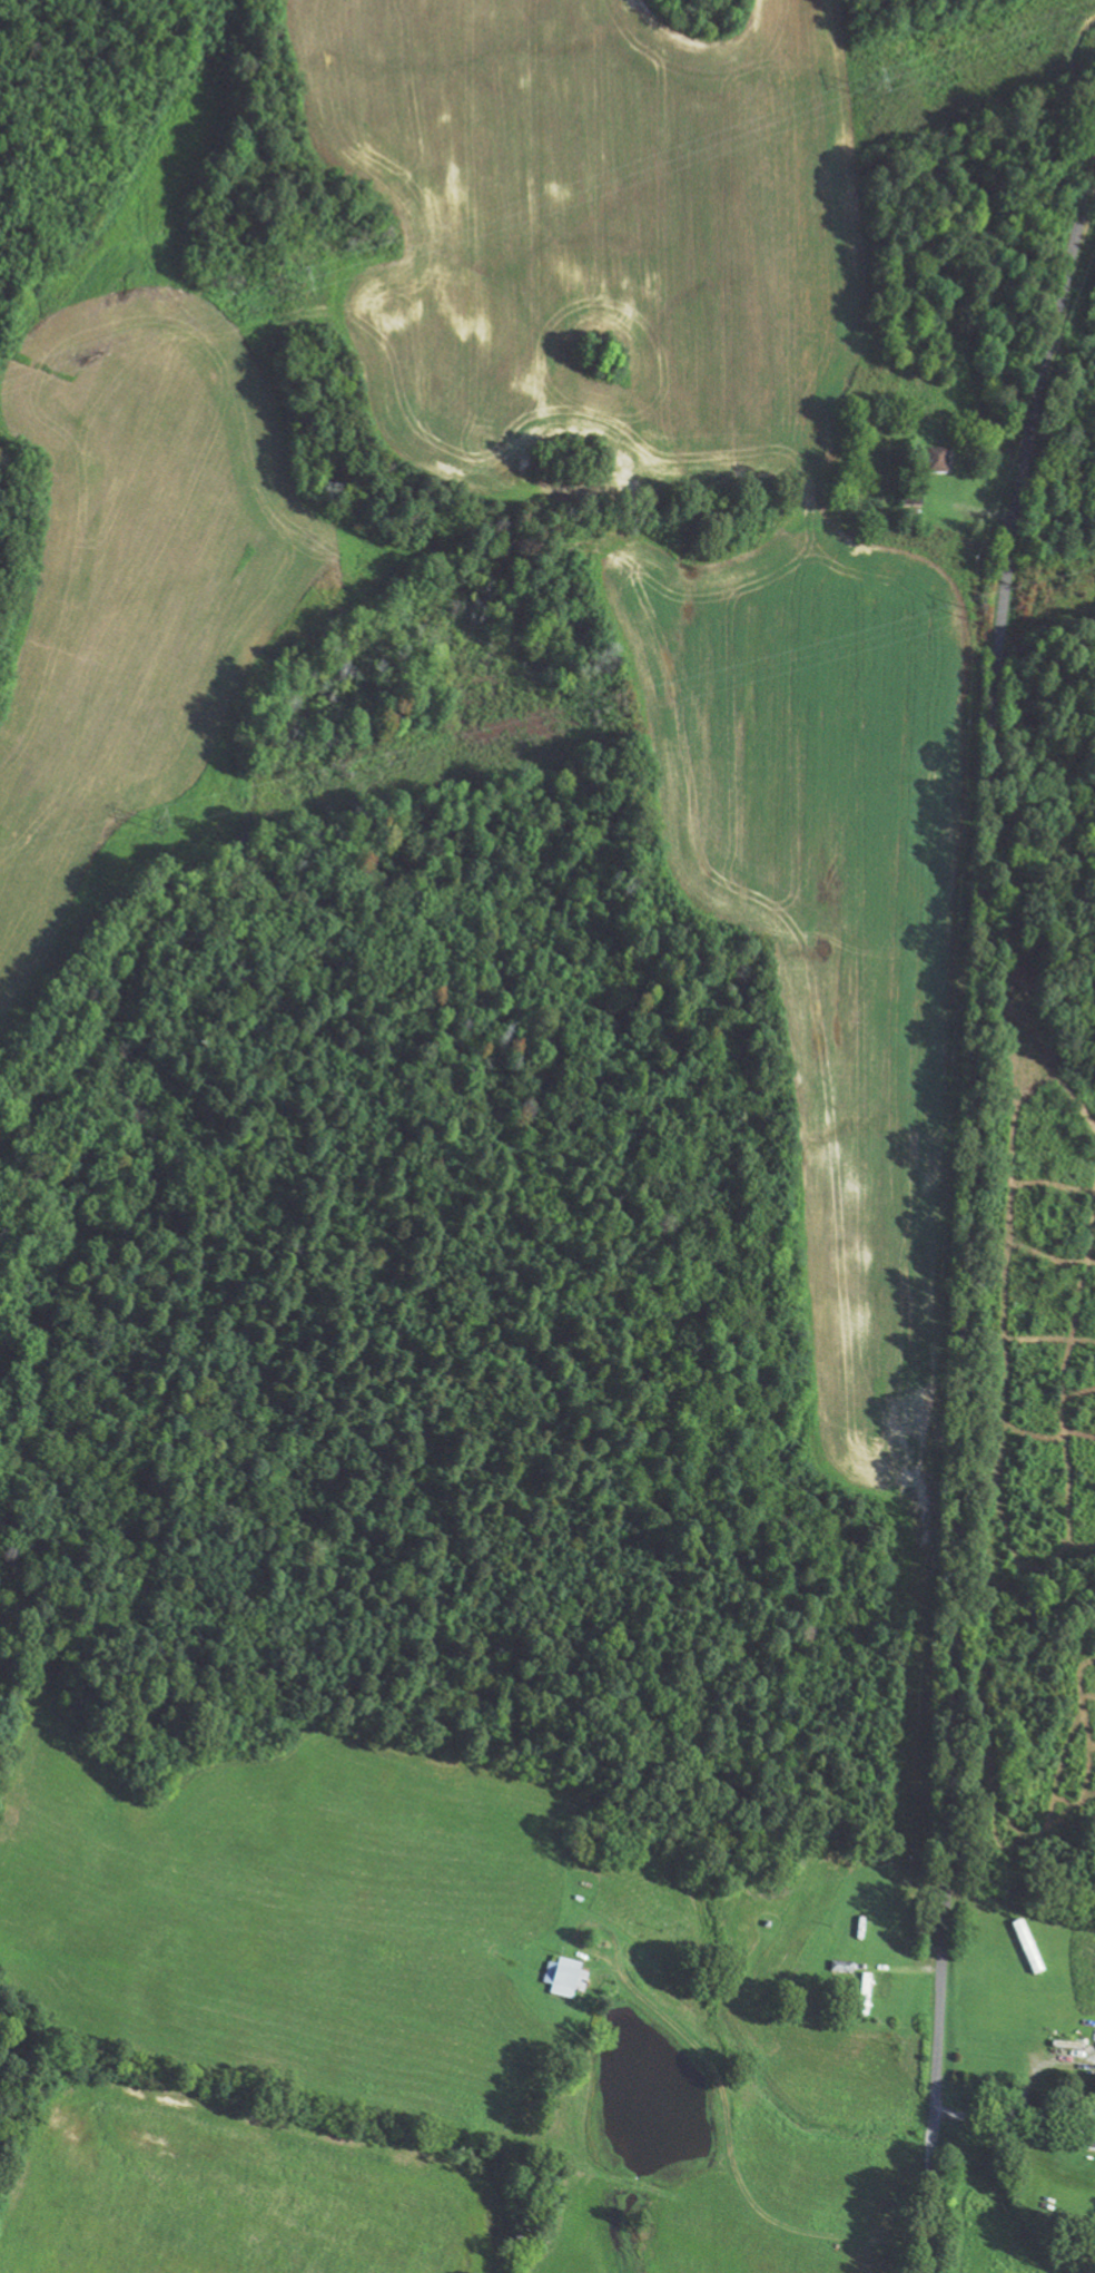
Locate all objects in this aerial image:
building: (935, 464)
road: (970, 1213)
building: (860, 1929)
building: (840, 1969)
building: (563, 1981)
building: (862, 1996)
building: (1092, 2128)

